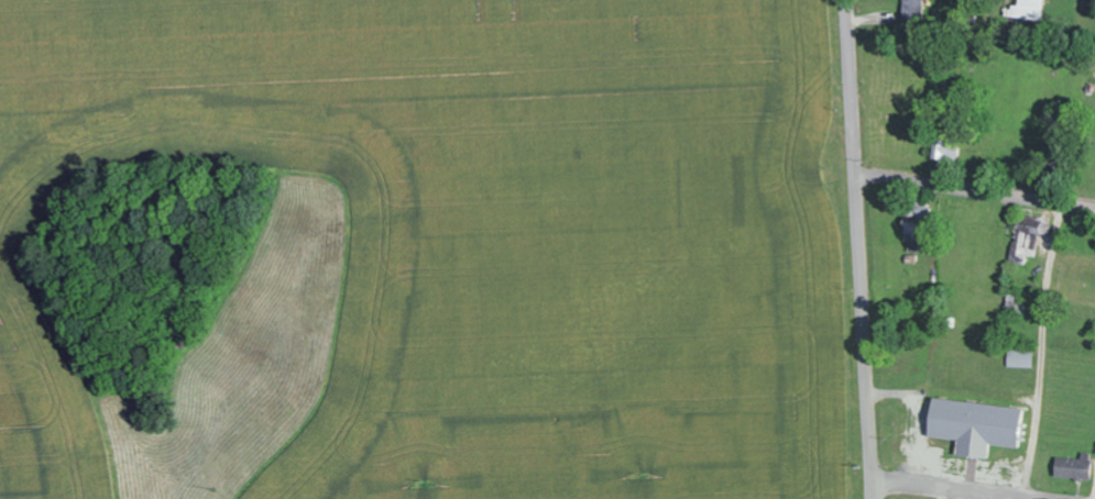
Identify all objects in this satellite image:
building: (915, 12)
building: (944, 145)
road: (973, 191)
building: (915, 235)
building: (1028, 239)
road: (854, 249)
building: (1021, 357)
building: (977, 425)
building: (1075, 467)
road: (956, 488)

